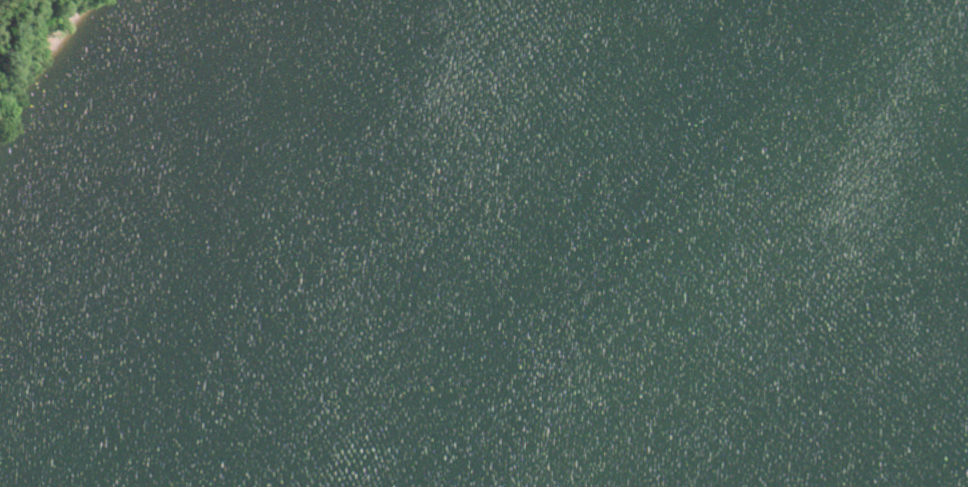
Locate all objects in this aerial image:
park: (42, 56)

